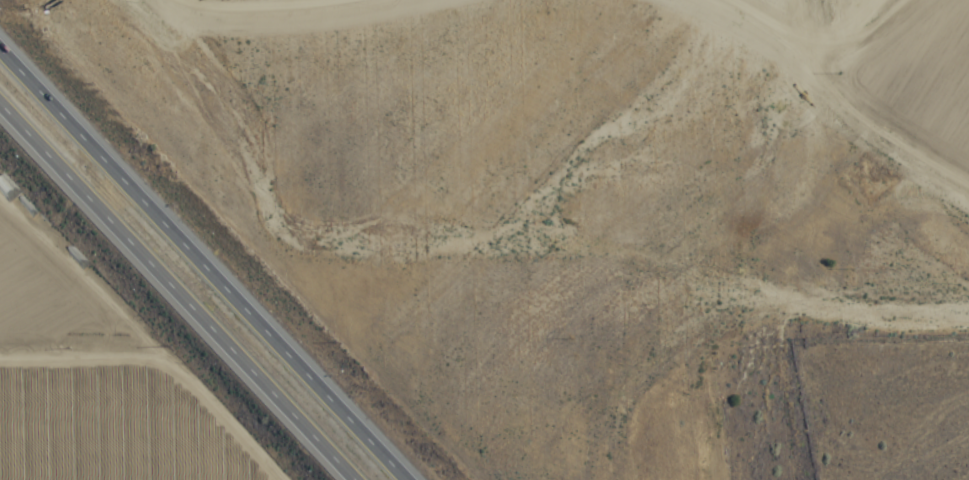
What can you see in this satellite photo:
road: (892, 113)
road: (806, 240)
road: (207, 258)
road: (172, 295)
crop: (98, 380)

